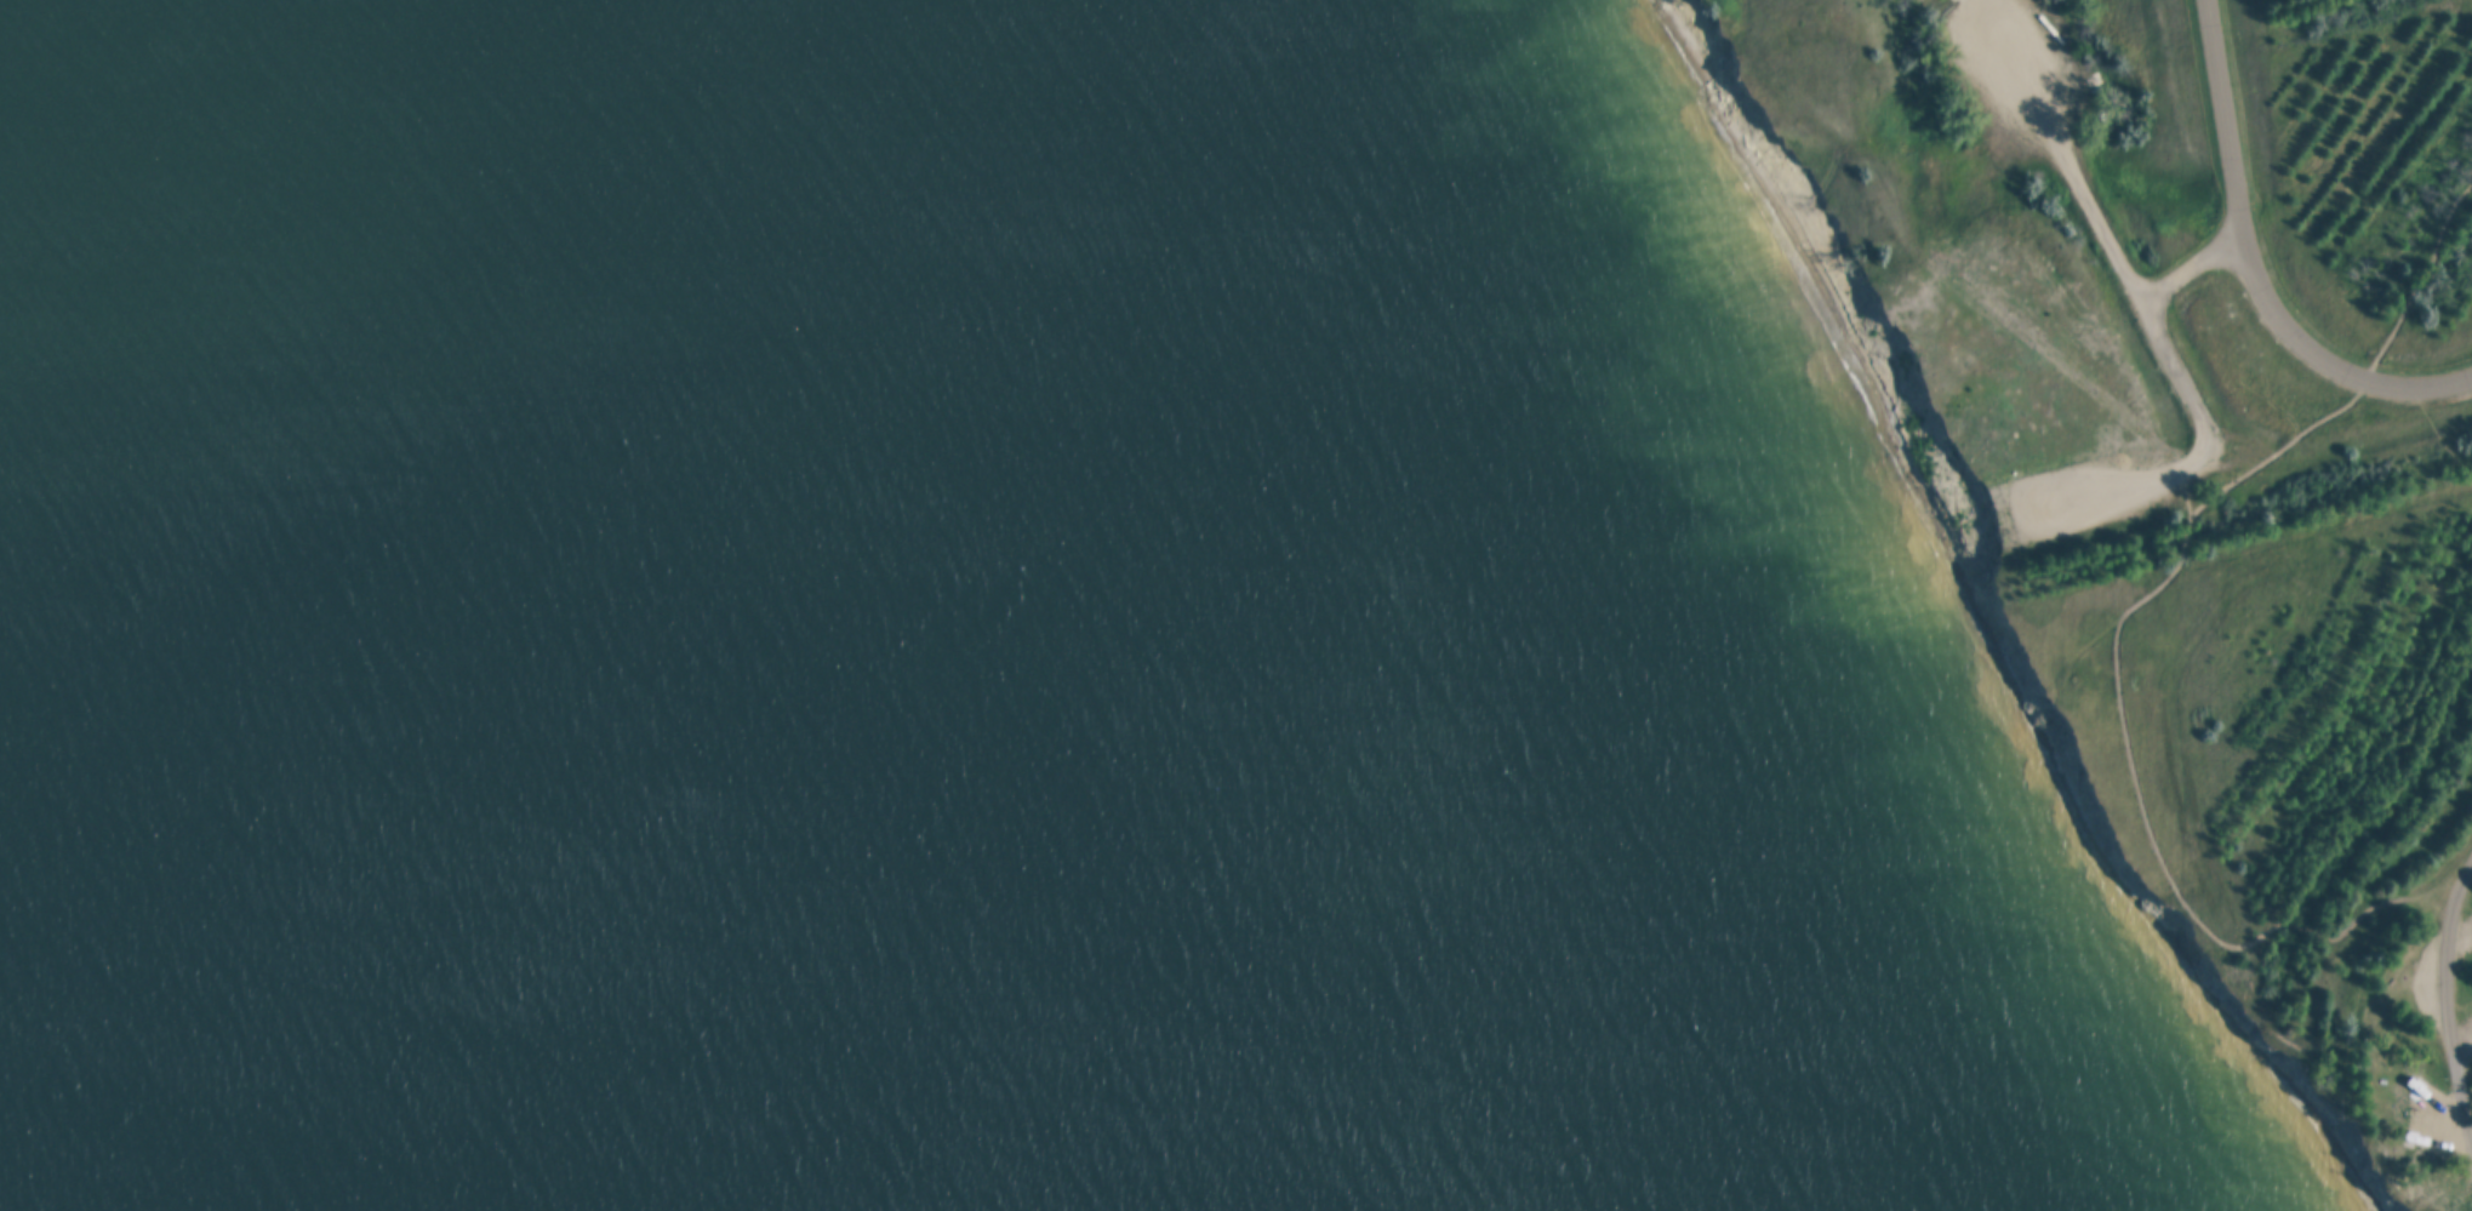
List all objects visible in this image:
road: (2197, 263)
road: (2255, 269)
road: (2157, 332)
park: (2188, 482)
road: (2065, 747)
road: (2453, 994)

